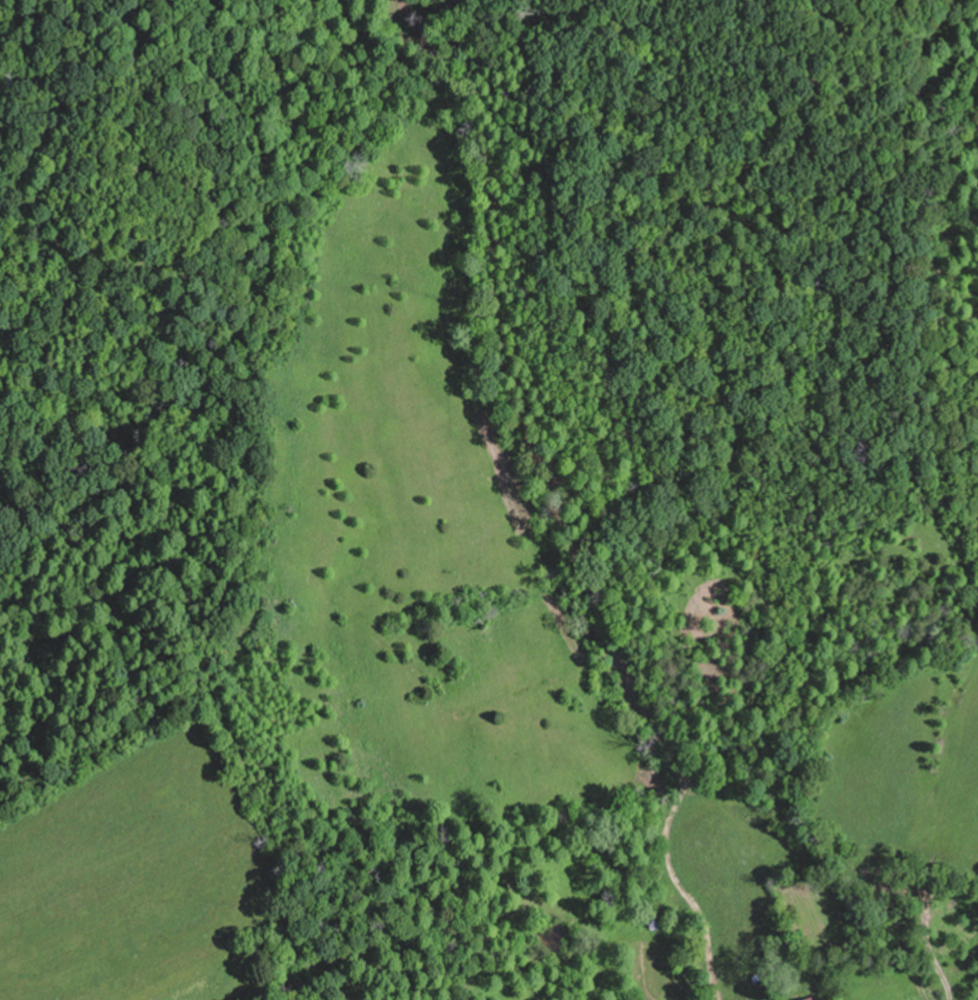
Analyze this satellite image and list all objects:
building: (811, 998)

